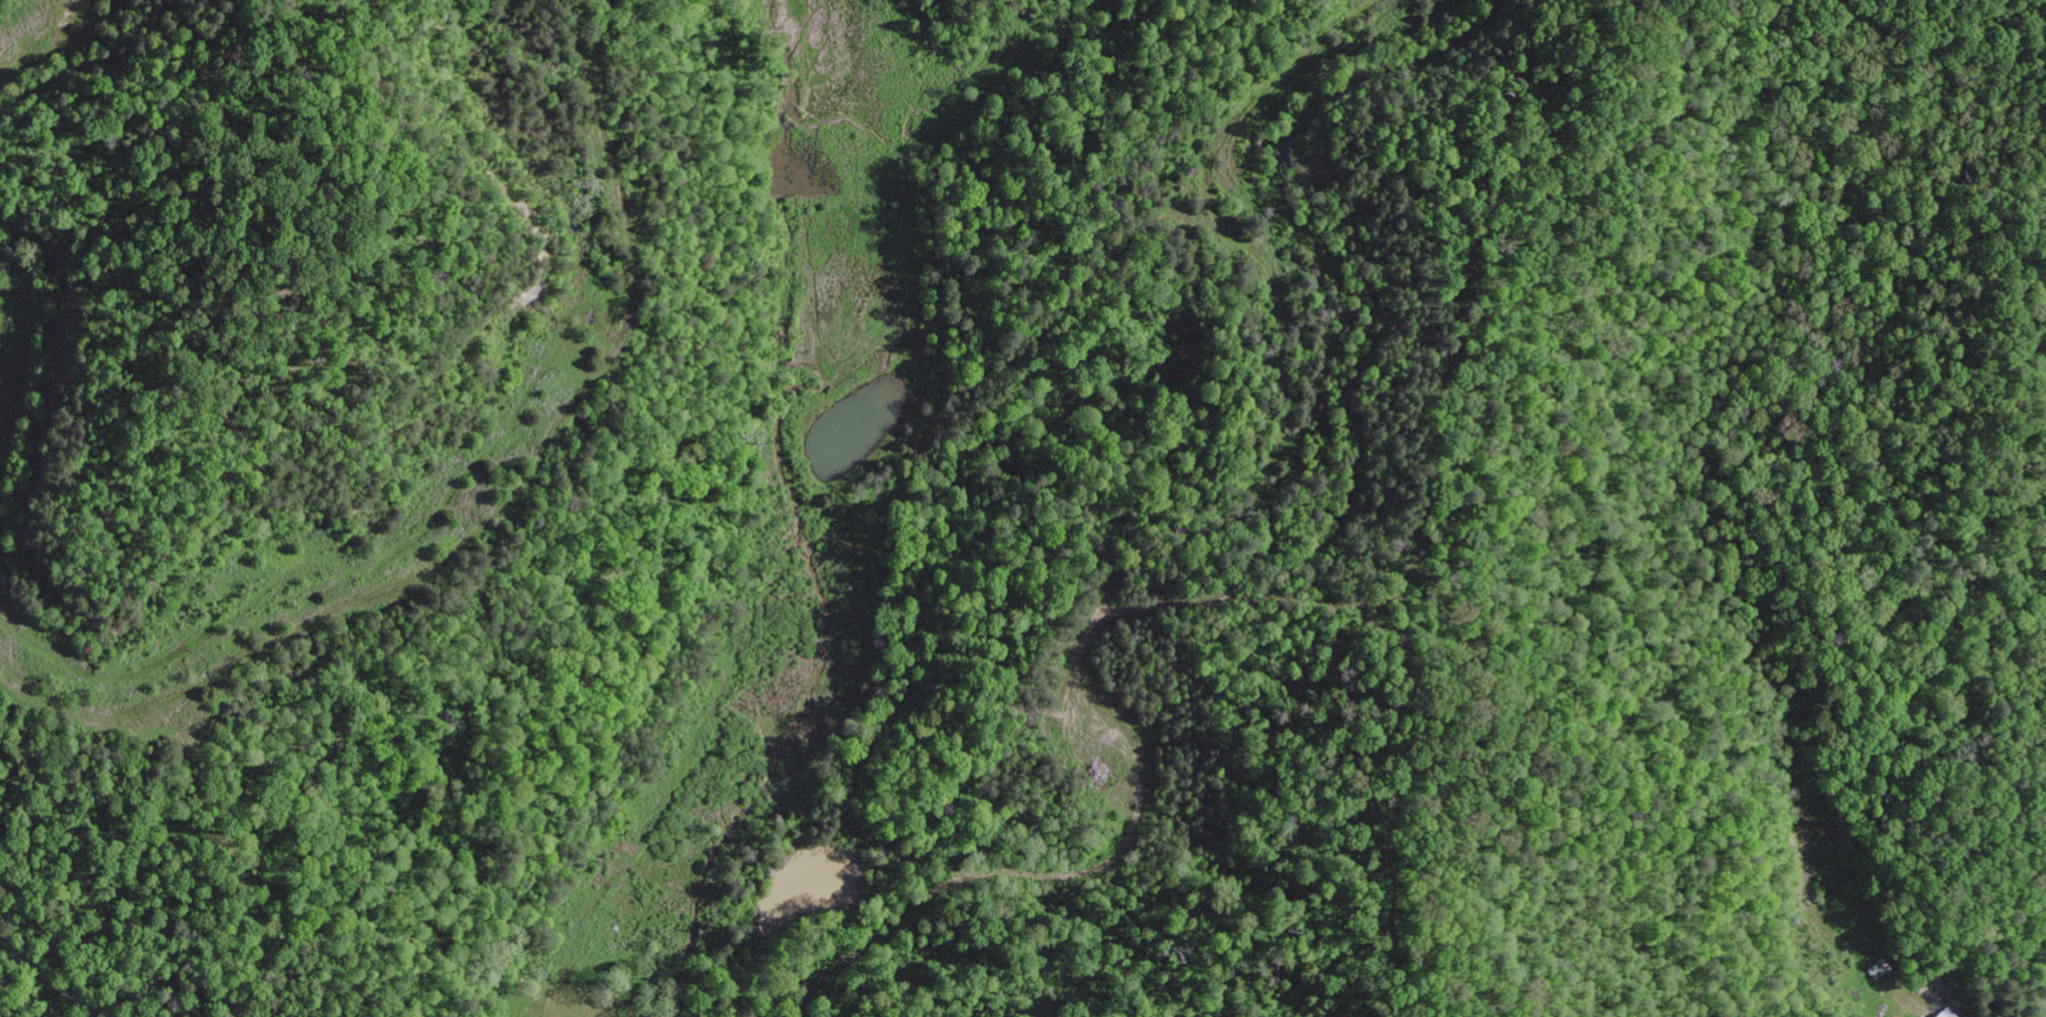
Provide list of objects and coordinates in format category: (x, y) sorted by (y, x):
road: (48, 981)
building: (1948, 1014)

